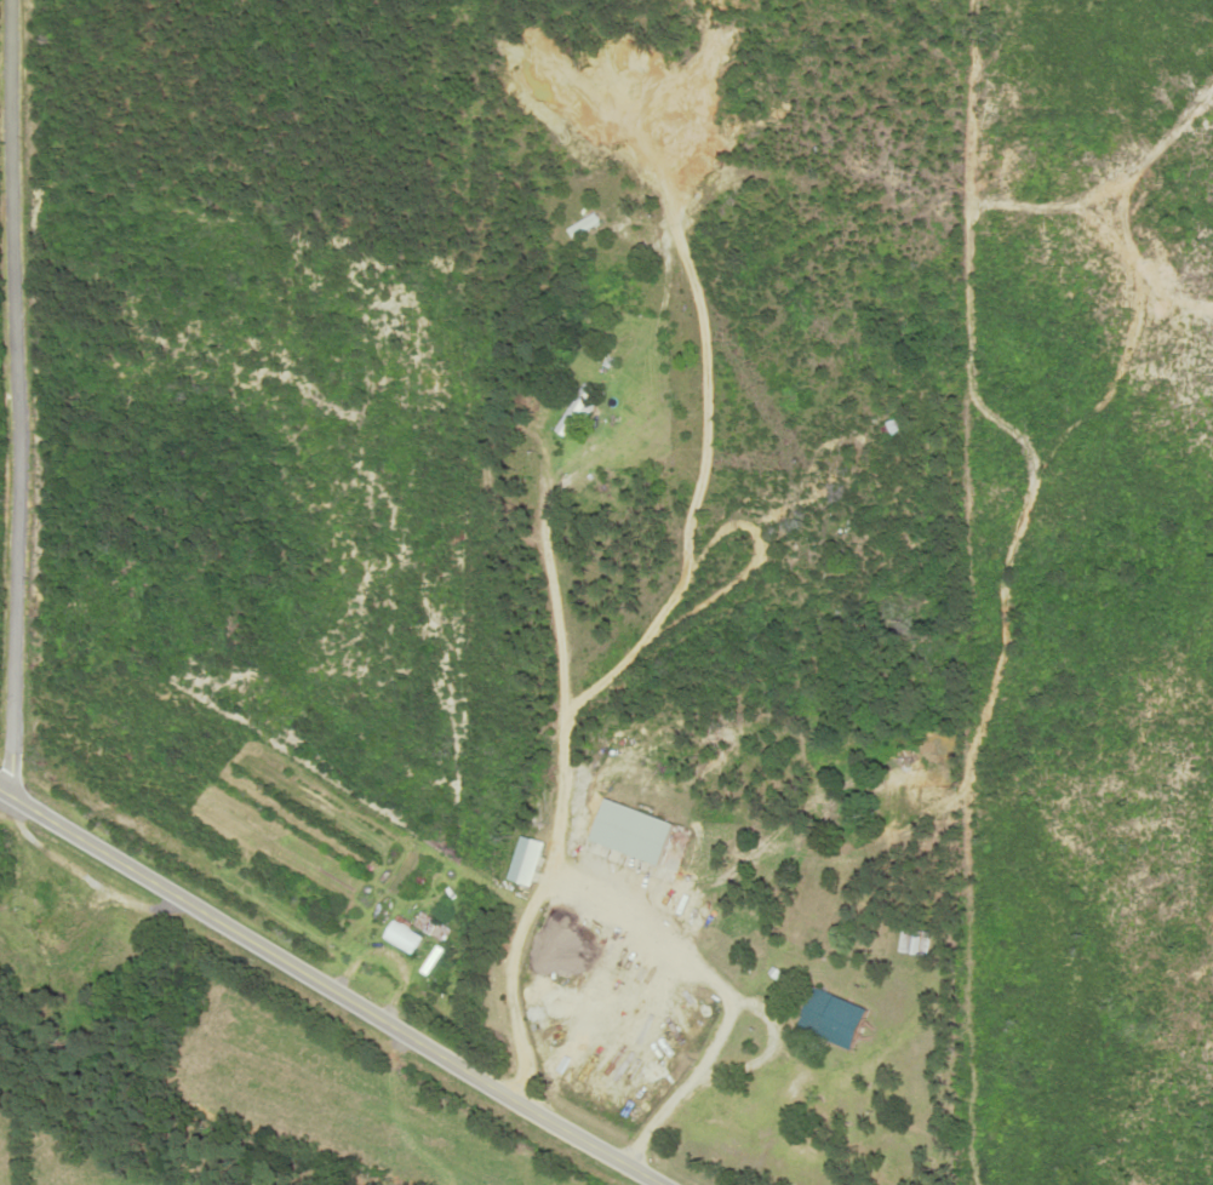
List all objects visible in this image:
road: (19, 401)
building: (572, 410)
building: (825, 529)
road: (563, 801)
building: (408, 935)
building: (922, 943)
road: (326, 989)
building: (840, 1019)
road: (756, 1059)
building: (903, 1177)

